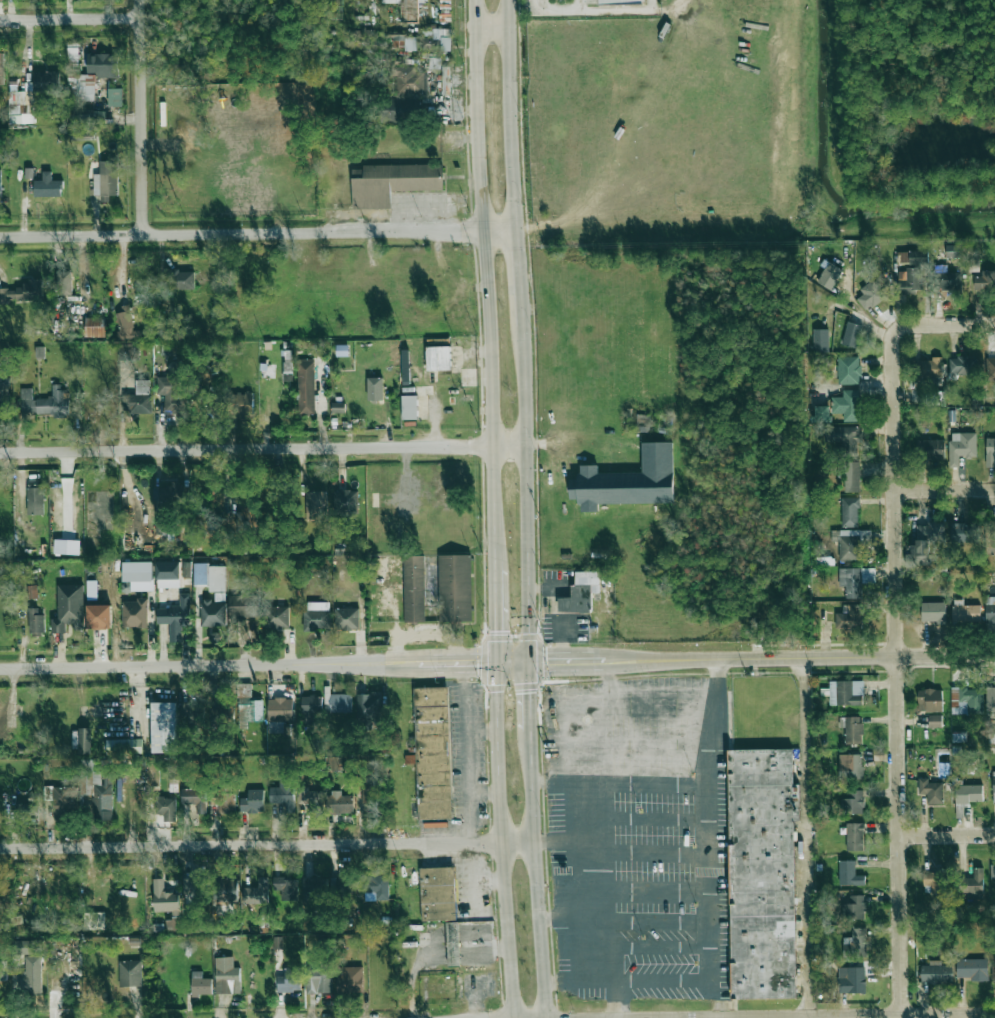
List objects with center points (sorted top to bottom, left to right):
building: (619, 1)
road: (580, 5)
road: (619, 9)
building: (409, 10)
road: (557, 10)
road: (70, 18)
road: (493, 30)
building: (440, 39)
building: (405, 42)
building: (1, 68)
building: (88, 73)
building: (408, 80)
building: (44, 81)
building: (114, 97)
building: (19, 109)
building: (391, 110)
road: (513, 114)
road: (142, 116)
building: (89, 118)
building: (28, 173)
building: (106, 180)
building: (381, 182)
building: (0, 184)
building: (47, 186)
road: (259, 232)
building: (955, 251)
building: (912, 257)
building: (829, 275)
road: (521, 277)
building: (948, 280)
building: (177, 281)
road: (485, 281)
building: (912, 281)
building: (985, 281)
building: (64, 282)
building: (20, 293)
building: (870, 296)
building: (124, 322)
road: (925, 324)
building: (94, 327)
building: (851, 334)
building: (820, 341)
building: (438, 358)
building: (962, 365)
building: (928, 368)
building: (990, 369)
building: (848, 370)
building: (305, 387)
building: (4, 388)
building: (375, 389)
building: (172, 394)
building: (138, 399)
building: (45, 403)
building: (240, 405)
building: (847, 405)
building: (337, 407)
building: (409, 407)
building: (821, 414)
building: (642, 423)
building: (845, 436)
building: (961, 447)
building: (931, 449)
building: (990, 452)
road: (264, 454)
building: (850, 477)
building: (627, 481)
road: (945, 489)
building: (169, 492)
road: (529, 494)
building: (35, 497)
building: (345, 502)
building: (315, 506)
building: (849, 512)
building: (245, 514)
building: (162, 522)
building: (963, 532)
building: (991, 537)
building: (924, 543)
building: (848, 544)
building: (66, 547)
building: (168, 574)
building: (138, 575)
building: (210, 576)
building: (855, 580)
building: (437, 587)
building: (91, 591)
building: (32, 593)
building: (580, 593)
building: (245, 606)
building: (69, 609)
building: (990, 609)
building: (933, 612)
building: (965, 612)
building: (134, 613)
building: (213, 613)
road: (495, 613)
building: (99, 617)
building: (175, 617)
building: (276, 617)
building: (849, 617)
building: (346, 618)
building: (35, 620)
building: (316, 620)
road: (425, 630)
traffic signals: (496, 637)
road: (946, 655)
road: (714, 660)
traffic signals: (547, 663)
road: (514, 664)
traffic signals: (475, 665)
road: (247, 666)
road: (610, 683)
traffic signals: (532, 688)
building: (846, 693)
road: (898, 693)
building: (930, 700)
building: (967, 700)
building: (990, 700)
building: (340, 703)
road: (565, 704)
building: (369, 706)
road: (532, 708)
building: (312, 710)
building: (251, 711)
building: (279, 714)
building: (935, 721)
building: (163, 727)
building: (852, 729)
road: (481, 731)
building: (84, 740)
road: (634, 741)
building: (124, 746)
building: (432, 753)
road: (464, 753)
building: (336, 763)
building: (850, 767)
road: (620, 782)
building: (993, 782)
building: (97, 789)
road: (483, 791)
building: (931, 791)
building: (968, 794)
building: (283, 795)
building: (195, 799)
building: (311, 799)
building: (65, 800)
building: (253, 801)
building: (339, 802)
building: (224, 803)
building: (853, 803)
building: (166, 808)
building: (26, 810)
road: (656, 820)
road: (947, 833)
building: (855, 836)
road: (807, 837)
parking lot: (638, 838)
road: (500, 841)
road: (569, 842)
road: (604, 843)
road: (267, 845)
road: (657, 854)
building: (762, 873)
building: (849, 874)
building: (992, 878)
road: (487, 881)
building: (936, 881)
building: (973, 883)
building: (314, 885)
building: (377, 885)
road: (536, 885)
building: (286, 889)
building: (225, 890)
road: (471, 890)
building: (257, 893)
road: (661, 893)
building: (437, 895)
building: (198, 896)
building: (165, 899)
road: (710, 904)
building: (853, 907)
road: (577, 912)
road: (577, 916)
building: (93, 922)
road: (663, 923)
building: (277, 942)
building: (858, 944)
road: (663, 947)
building: (29, 965)
building: (993, 965)
building: (2, 968)
building: (972, 969)
building: (130, 973)
building: (936, 973)
building: (227, 976)
building: (853, 979)
building: (289, 980)
building: (350, 980)
building: (318, 982)
building: (201, 985)
road: (719, 998)
road: (616, 1000)
road: (867, 1016)
road: (802, 1017)

